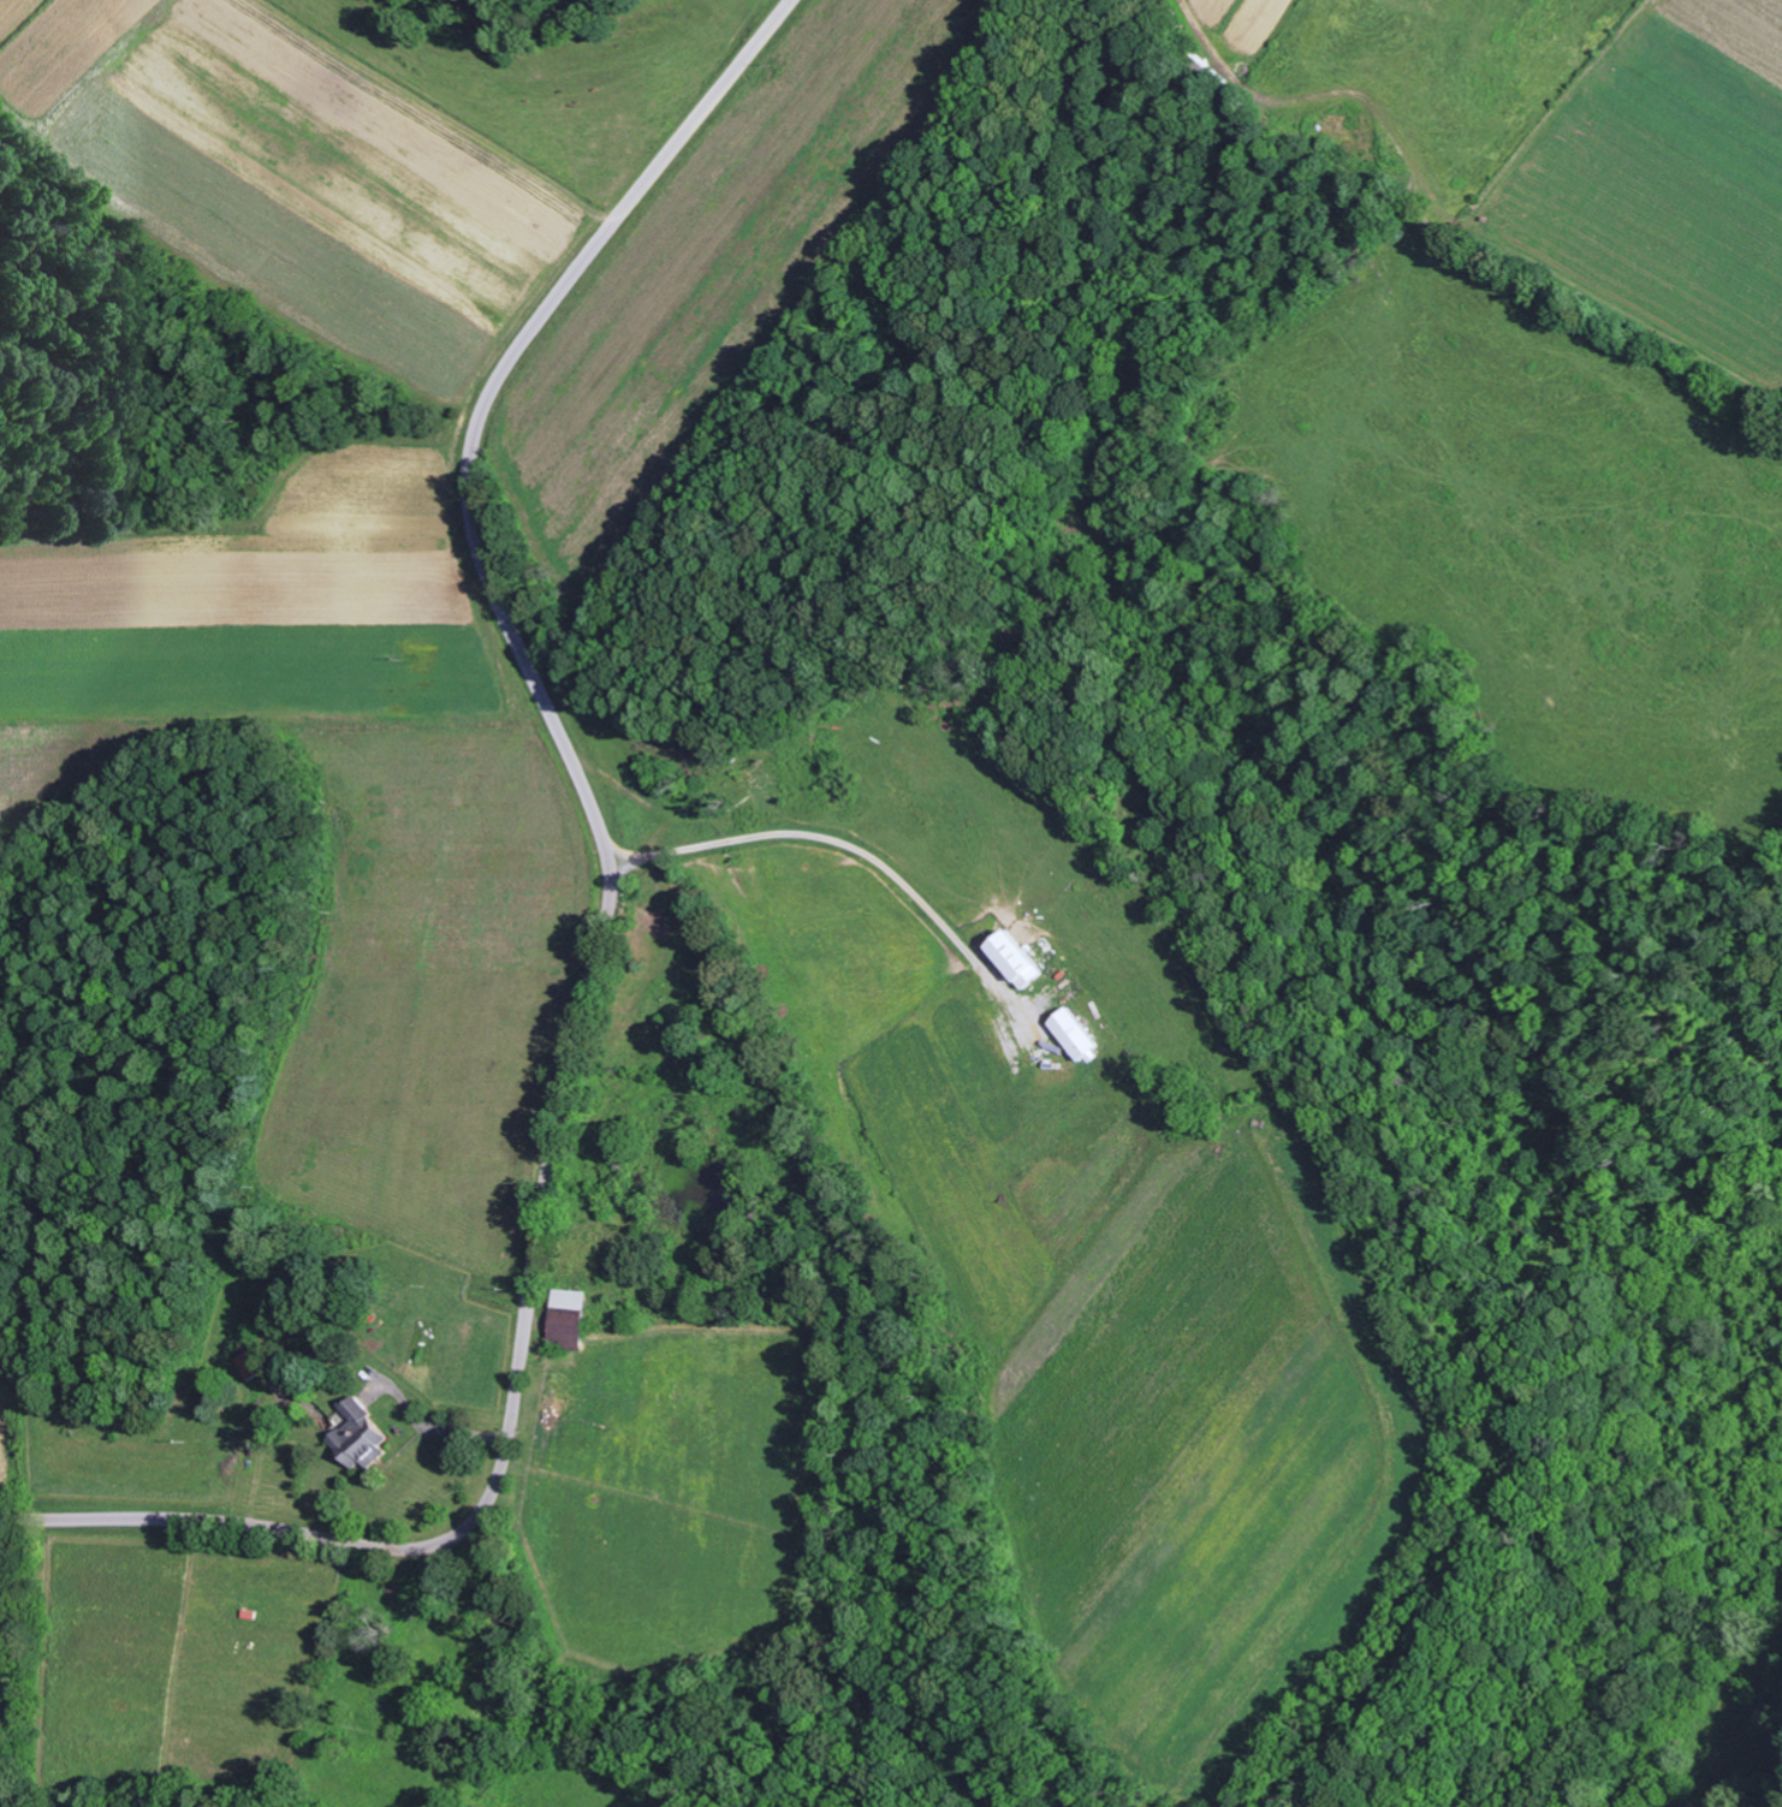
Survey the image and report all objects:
road: (606, 945)
building: (1016, 959)
building: (1080, 1035)
building: (569, 1319)
building: (250, 1365)
building: (360, 1436)
road: (509, 1714)

